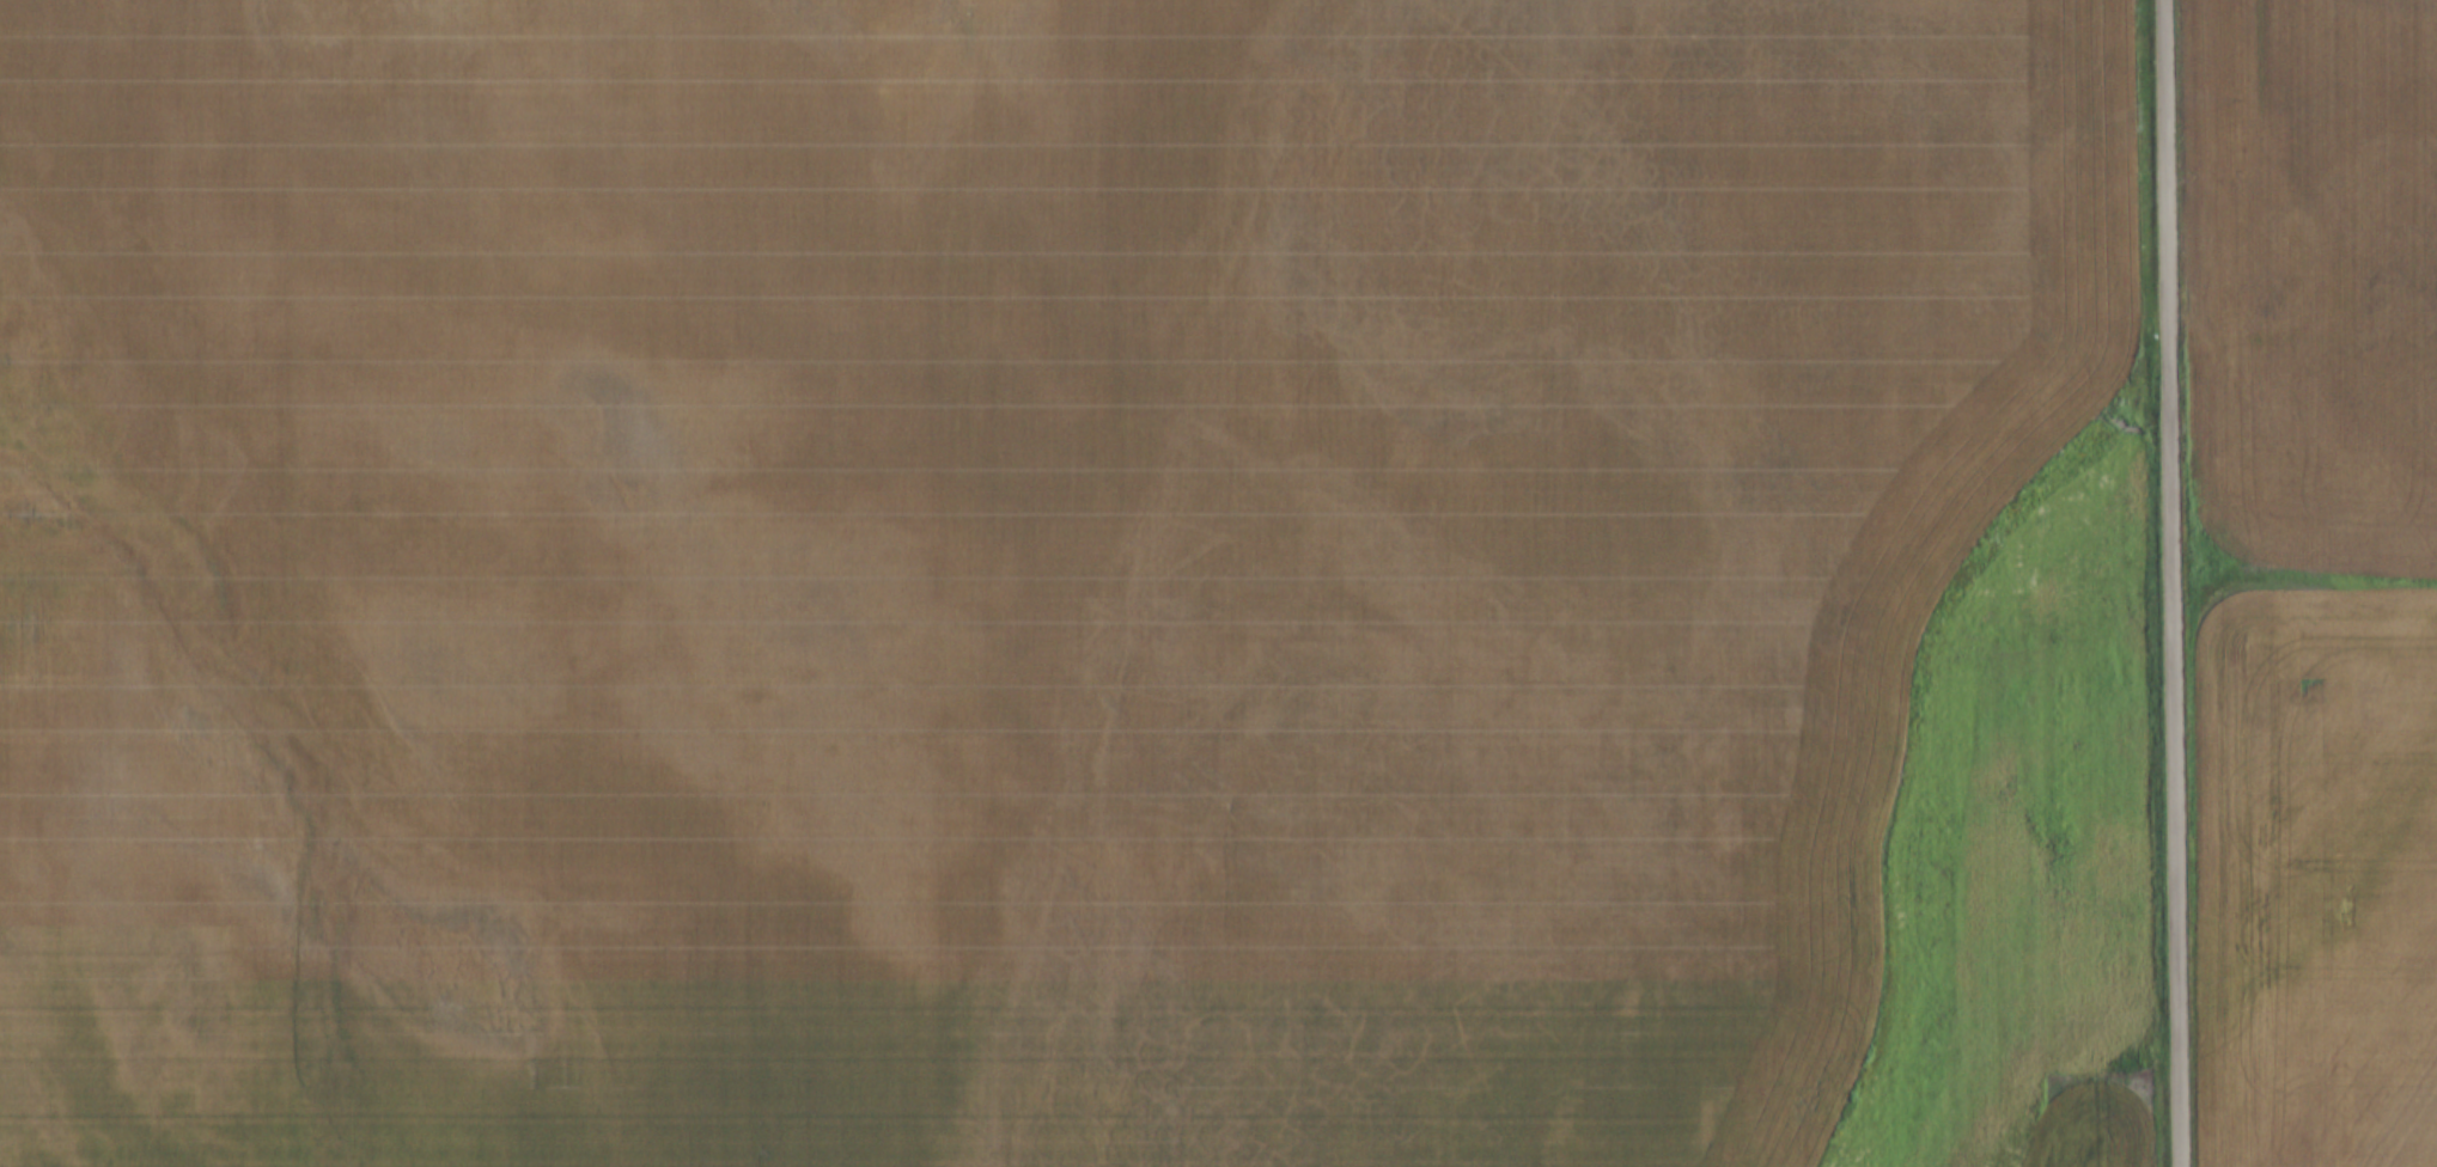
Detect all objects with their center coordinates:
road: (2170, 583)

